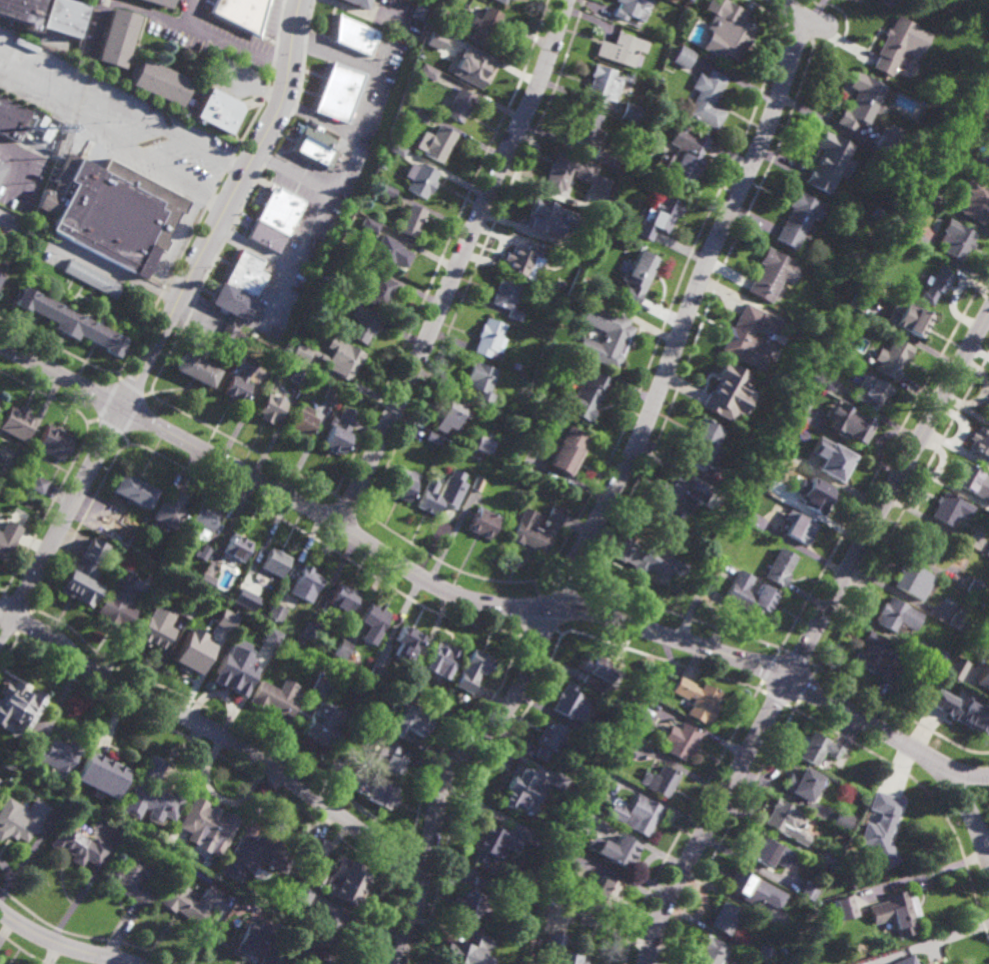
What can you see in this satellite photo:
building: (501, 1)
building: (887, 1)
building: (162, 2)
building: (361, 2)
building: (631, 8)
building: (419, 10)
building: (241, 12)
road: (150, 13)
building: (45, 15)
road: (800, 16)
road: (98, 22)
building: (482, 24)
road: (783, 24)
building: (728, 31)
road: (798, 31)
building: (354, 34)
building: (116, 36)
building: (444, 39)
building: (433, 41)
road: (227, 42)
road: (812, 43)
building: (893, 44)
building: (620, 48)
building: (683, 56)
building: (469, 66)
building: (427, 70)
road: (233, 76)
building: (160, 81)
building: (601, 84)
building: (338, 91)
road: (372, 96)
building: (706, 99)
building: (861, 101)
building: (456, 104)
building: (186, 109)
building: (630, 111)
building: (213, 113)
building: (421, 114)
building: (16, 118)
road: (158, 126)
building: (586, 127)
building: (988, 134)
building: (988, 136)
road: (114, 140)
building: (435, 142)
building: (315, 146)
building: (398, 149)
building: (682, 154)
building: (827, 160)
building: (987, 161)
road: (24, 166)
building: (2, 172)
building: (570, 175)
building: (987, 175)
building: (419, 178)
building: (921, 189)
building: (386, 190)
building: (974, 200)
building: (115, 215)
building: (657, 217)
building: (539, 218)
building: (798, 218)
building: (274, 219)
building: (410, 221)
building: (901, 228)
building: (958, 241)
road: (183, 248)
building: (574, 250)
building: (391, 252)
building: (355, 261)
building: (523, 261)
road: (457, 264)
road: (112, 273)
building: (769, 275)
building: (0, 276)
building: (637, 277)
building: (91, 278)
building: (0, 283)
building: (937, 285)
building: (240, 286)
building: (377, 289)
building: (505, 298)
building: (857, 304)
building: (910, 320)
building: (361, 321)
building: (70, 322)
road: (165, 322)
building: (742, 333)
building: (605, 336)
building: (229, 339)
building: (489, 340)
building: (301, 353)
building: (893, 357)
building: (341, 358)
building: (516, 366)
building: (196, 370)
road: (117, 375)
building: (299, 376)
building: (815, 376)
building: (480, 381)
building: (239, 382)
road: (131, 387)
building: (722, 388)
building: (871, 392)
road: (148, 393)
road: (45, 395)
building: (331, 395)
building: (586, 397)
road: (108, 399)
building: (271, 409)
building: (797, 409)
building: (449, 415)
building: (988, 418)
building: (988, 420)
building: (302, 421)
road: (91, 422)
building: (17, 423)
building: (848, 423)
building: (339, 432)
building: (432, 438)
building: (980, 442)
building: (54, 443)
building: (482, 445)
building: (702, 445)
building: (569, 451)
building: (832, 460)
road: (289, 469)
building: (967, 478)
building: (760, 481)
building: (477, 483)
building: (38, 485)
building: (403, 485)
building: (134, 491)
road: (335, 494)
building: (441, 495)
building: (674, 496)
road: (889, 496)
building: (817, 497)
road: (610, 499)
road: (348, 502)
road: (49, 508)
road: (363, 510)
building: (951, 510)
building: (170, 511)
building: (742, 512)
building: (205, 519)
building: (113, 522)
building: (482, 523)
building: (798, 527)
building: (537, 529)
building: (8, 539)
building: (930, 543)
building: (236, 549)
building: (206, 550)
road: (379, 551)
building: (987, 552)
building: (650, 559)
building: (159, 560)
building: (275, 563)
road: (592, 565)
building: (780, 565)
road: (491, 579)
building: (913, 579)
building: (205, 580)
building: (82, 583)
building: (305, 583)
road: (579, 584)
road: (536, 586)
road: (557, 587)
building: (976, 587)
road: (2, 590)
road: (4, 593)
building: (751, 593)
building: (343, 596)
building: (237, 599)
building: (119, 600)
building: (185, 607)
road: (33, 610)
building: (277, 611)
road: (28, 613)
building: (374, 615)
building: (897, 615)
building: (958, 619)
building: (226, 620)
building: (156, 625)
building: (220, 626)
building: (308, 630)
road: (18, 636)
building: (271, 637)
building: (304, 641)
building: (408, 641)
building: (343, 648)
building: (191, 653)
building: (877, 655)
building: (938, 656)
building: (442, 658)
building: (233, 667)
building: (472, 667)
building: (956, 668)
building: (597, 671)
building: (374, 673)
traffic signals: (789, 677)
building: (984, 677)
building: (320, 686)
building: (988, 690)
building: (408, 691)
building: (275, 696)
building: (697, 699)
building: (634, 702)
building: (575, 708)
building: (904, 708)
building: (962, 710)
building: (912, 712)
building: (15, 718)
building: (411, 720)
building: (324, 722)
road: (216, 732)
building: (551, 734)
building: (621, 736)
building: (680, 739)
road: (913, 747)
building: (818, 748)
building: (54, 754)
building: (543, 754)
building: (11, 756)
building: (390, 759)
building: (7, 764)
building: (336, 768)
building: (101, 772)
building: (601, 773)
road: (962, 773)
building: (659, 780)
building: (560, 781)
building: (802, 782)
building: (377, 788)
building: (523, 789)
building: (152, 793)
building: (636, 814)
building: (19, 817)
road: (711, 817)
building: (575, 819)
building: (787, 820)
building: (843, 820)
building: (168, 824)
building: (207, 824)
building: (882, 828)
building: (534, 839)
building: (494, 840)
building: (78, 846)
building: (314, 847)
building: (557, 848)
building: (762, 849)
building: (618, 851)
building: (263, 854)
building: (827, 857)
building: (332, 876)
building: (348, 878)
building: (130, 879)
building: (480, 882)
building: (525, 884)
building: (744, 887)
building: (851, 887)
building: (604, 892)
building: (809, 892)
building: (303, 894)
road: (77, 896)
building: (189, 902)
building: (466, 903)
building: (844, 907)
building: (235, 911)
building: (813, 911)
building: (897, 912)
building: (726, 918)
building: (791, 923)
building: (329, 927)
building: (257, 942)
road: (60, 944)
building: (294, 946)
building: (559, 950)
building: (466, 951)
building: (711, 951)
building: (763, 953)
building: (906, 960)
building: (321, 961)
building: (924, 963)

